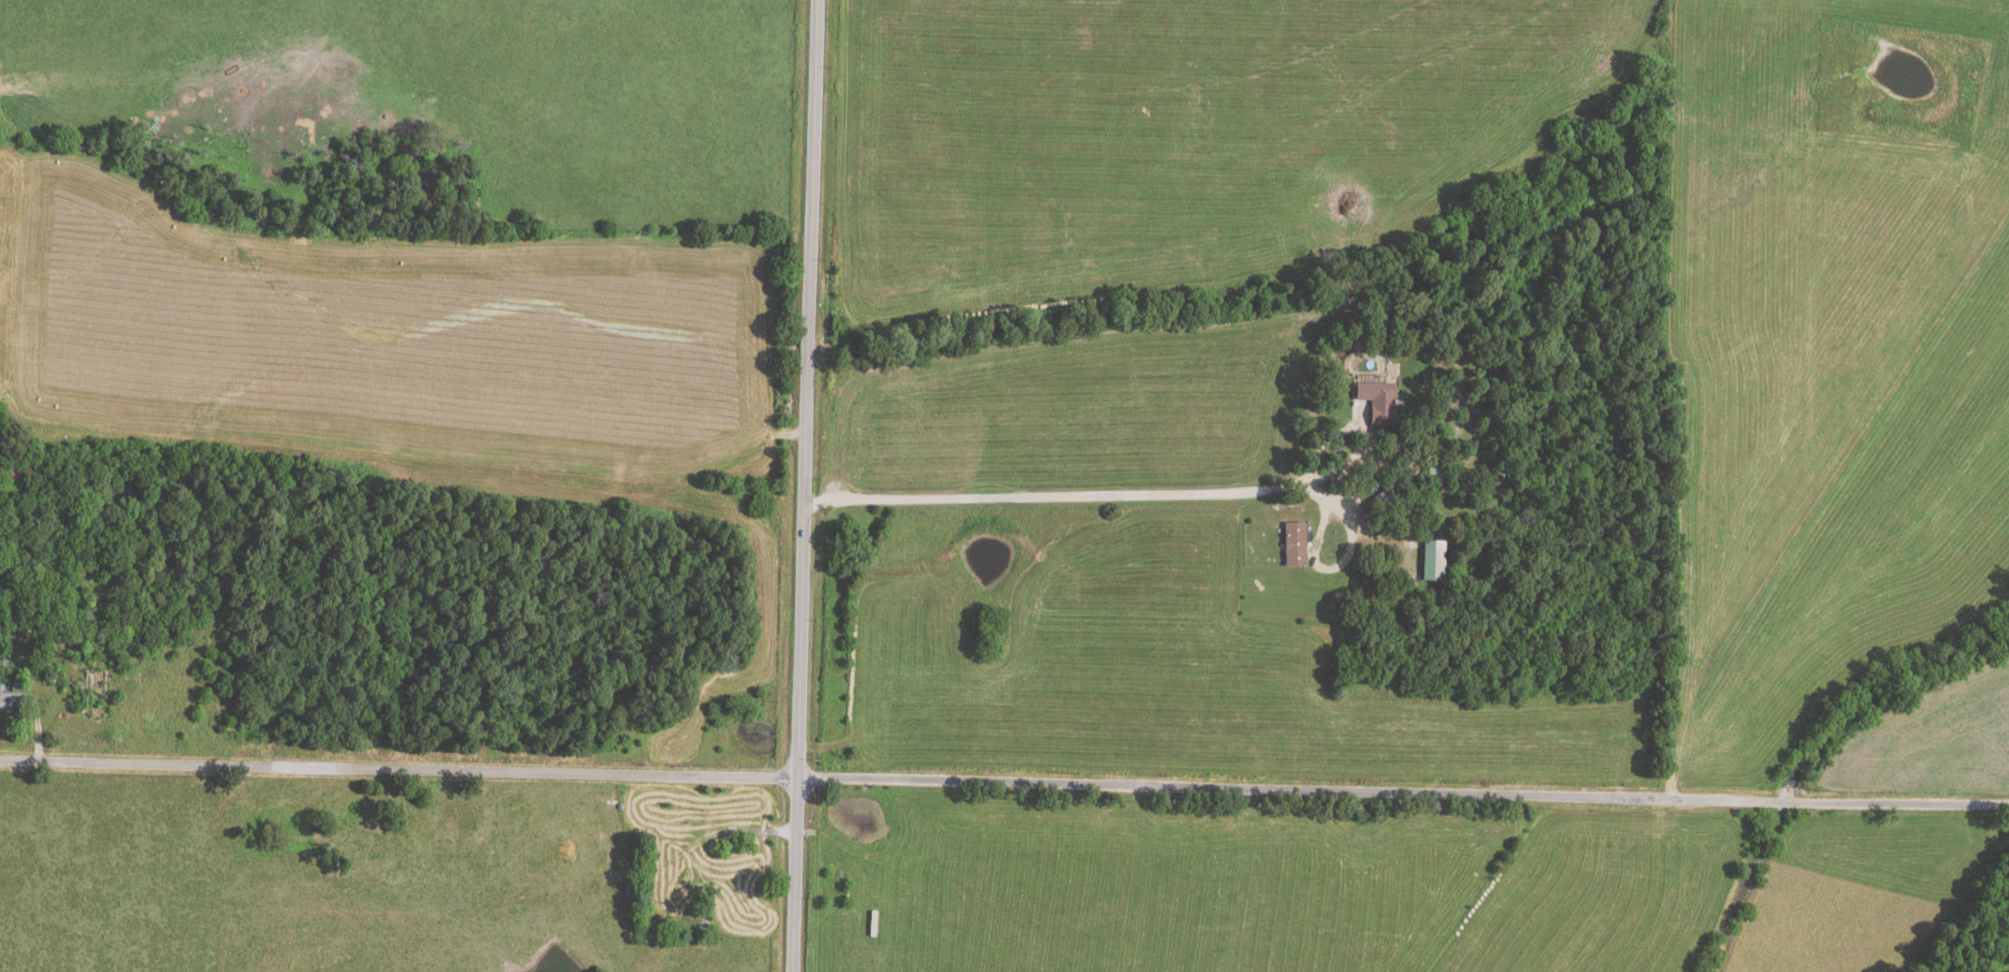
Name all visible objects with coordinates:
building: (1377, 400)
building: (1436, 475)
road: (801, 486)
road: (1115, 495)
building: (1294, 543)
building: (1432, 559)
building: (8, 696)
road: (1004, 779)
road: (705, 834)

